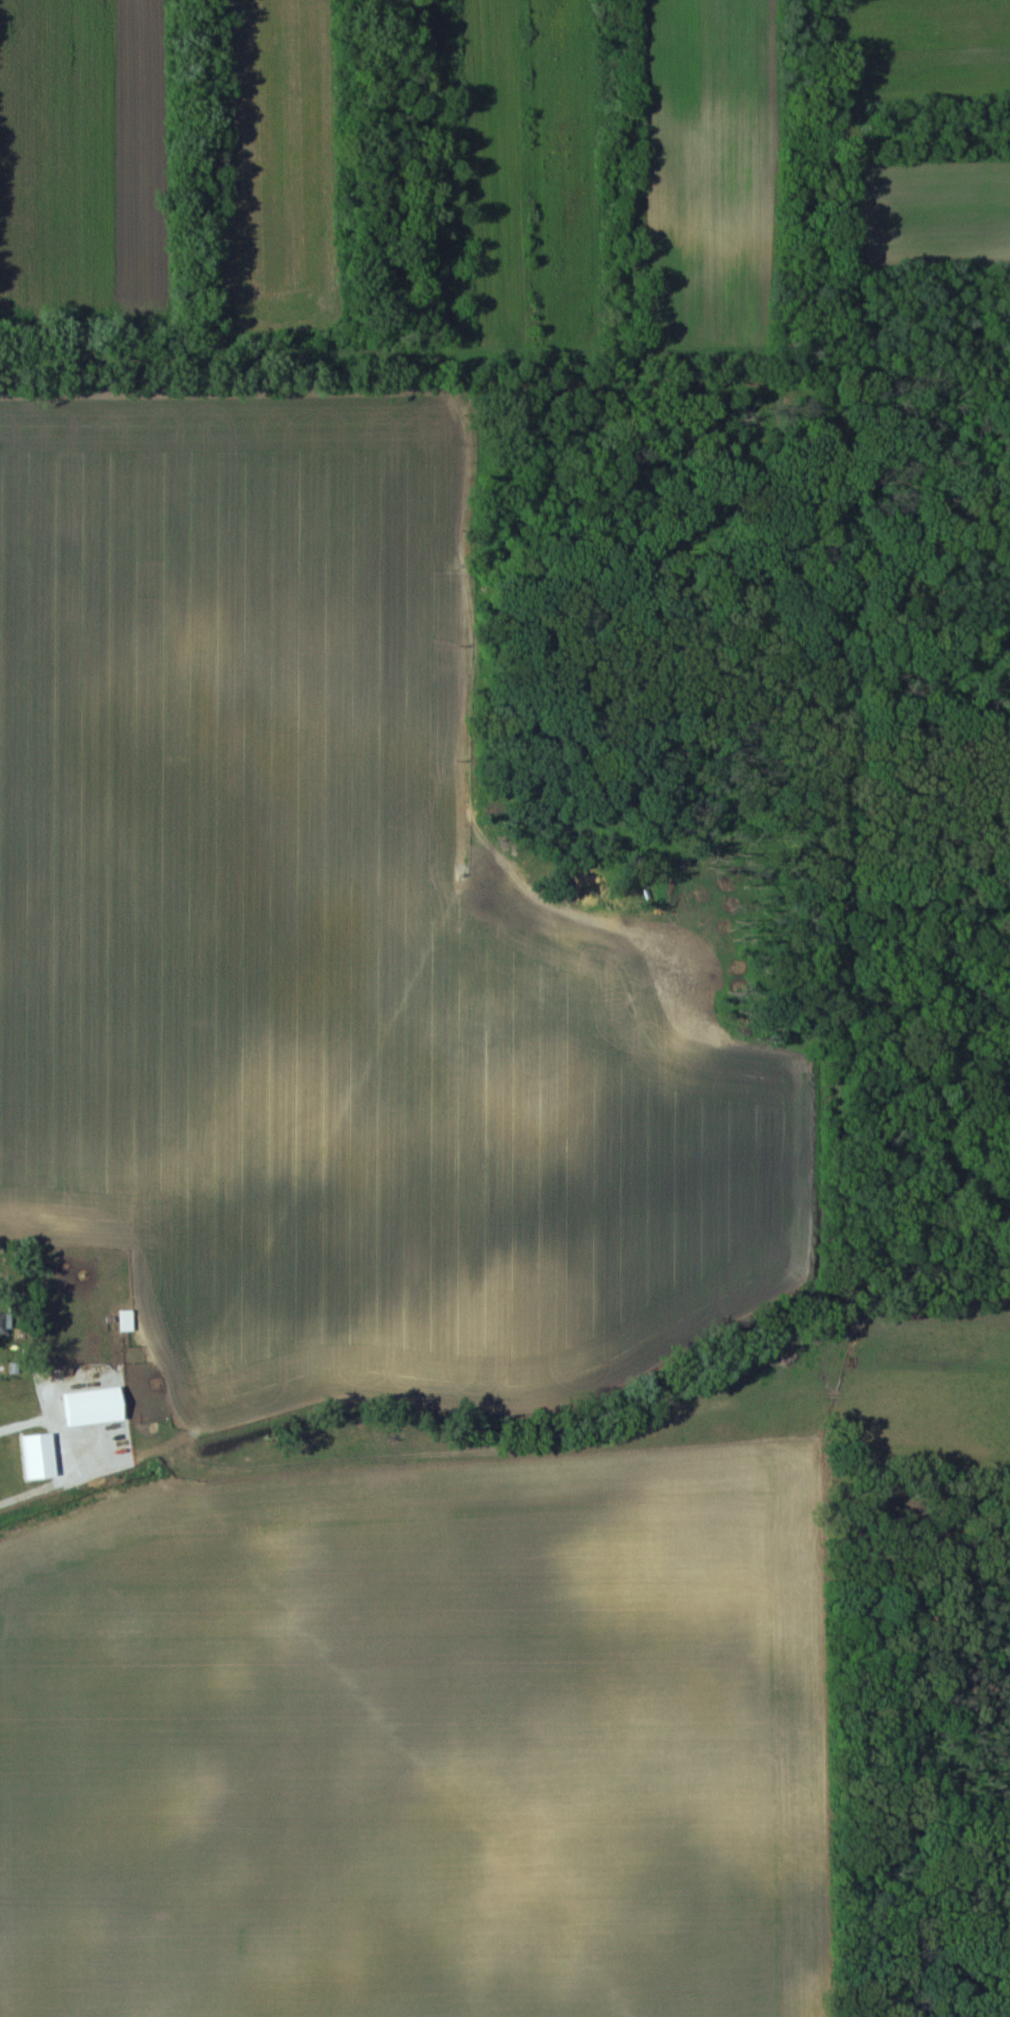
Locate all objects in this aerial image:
building: (124, 1321)
building: (1, 1322)
building: (36, 1458)

